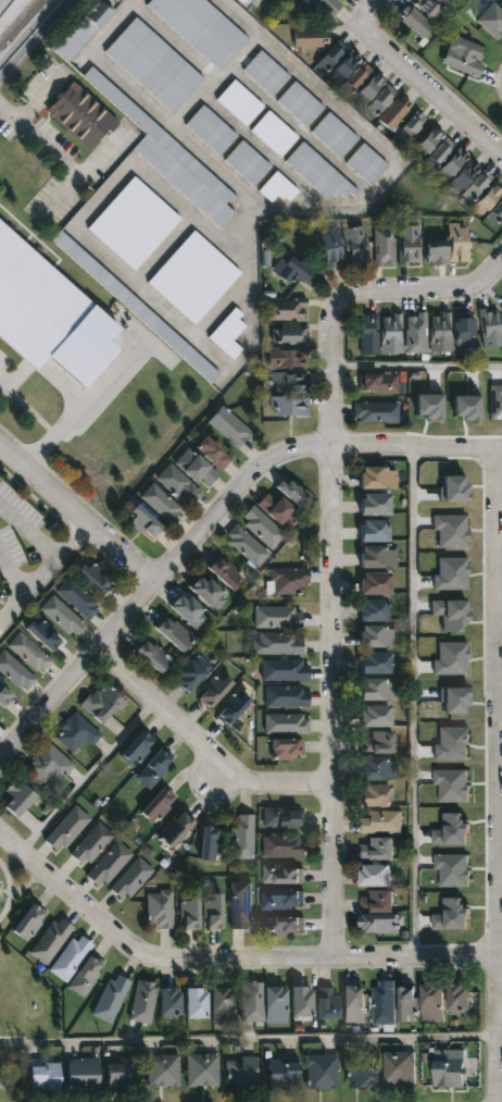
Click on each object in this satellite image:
building: (342, 0)
building: (457, 0)
road: (138, 1)
building: (240, 1)
building: (304, 1)
building: (445, 3)
road: (4, 4)
building: (327, 5)
building: (428, 9)
building: (415, 22)
building: (491, 22)
building: (201, 27)
building: (83, 30)
building: (310, 38)
road: (35, 40)
building: (465, 55)
building: (337, 62)
building: (153, 65)
road: (397, 66)
road: (110, 67)
building: (266, 73)
building: (354, 78)
building: (368, 88)
building: (380, 102)
building: (239, 103)
building: (300, 104)
building: (396, 113)
building: (80, 116)
road: (179, 117)
building: (211, 129)
building: (411, 129)
building: (274, 134)
building: (335, 135)
road: (367, 137)
road: (480, 138)
building: (427, 141)
building: (439, 154)
road: (55, 156)
building: (171, 158)
building: (248, 163)
building: (366, 164)
building: (453, 164)
building: (318, 173)
building: (463, 176)
building: (278, 187)
building: (477, 187)
building: (487, 198)
building: (495, 214)
building: (134, 224)
building: (456, 244)
building: (409, 245)
building: (356, 247)
building: (332, 248)
building: (382, 248)
building: (436, 251)
road: (110, 263)
building: (301, 271)
building: (193, 277)
building: (34, 302)
building: (501, 306)
building: (135, 307)
building: (284, 309)
building: (464, 326)
building: (490, 329)
building: (440, 332)
building: (228, 334)
building: (368, 334)
building: (290, 335)
building: (391, 335)
building: (416, 335)
building: (285, 358)
road: (416, 368)
building: (287, 382)
building: (380, 385)
building: (495, 403)
building: (290, 406)
building: (428, 406)
road: (81, 408)
building: (466, 408)
road: (27, 409)
building: (376, 412)
building: (229, 426)
building: (212, 451)
road: (417, 451)
building: (197, 468)
building: (377, 476)
building: (179, 485)
building: (453, 490)
building: (293, 492)
building: (162, 504)
building: (376, 505)
building: (279, 509)
road: (76, 518)
building: (145, 523)
building: (262, 528)
building: (375, 531)
building: (451, 531)
road: (27, 534)
building: (246, 546)
road: (332, 546)
building: (379, 557)
road: (42, 572)
building: (227, 574)
building: (451, 574)
building: (93, 577)
building: (288, 580)
building: (377, 584)
road: (152, 586)
building: (209, 593)
building: (78, 598)
building: (189, 610)
building: (375, 610)
building: (450, 615)
building: (62, 617)
building: (276, 617)
building: (43, 634)
building: (175, 634)
building: (380, 636)
building: (277, 643)
building: (29, 653)
building: (153, 656)
building: (451, 659)
building: (377, 663)
building: (285, 670)
building: (14, 671)
building: (193, 673)
building: (380, 690)
building: (214, 691)
building: (4, 695)
building: (287, 696)
building: (454, 701)
building: (101, 702)
road: (414, 705)
building: (231, 708)
building: (1, 716)
building: (377, 716)
building: (287, 722)
building: (75, 733)
building: (378, 743)
building: (451, 744)
building: (138, 748)
building: (288, 748)
road: (204, 751)
building: (49, 763)
building: (154, 768)
building: (379, 769)
road: (495, 777)
road: (87, 778)
building: (452, 784)
building: (377, 795)
building: (18, 797)
building: (158, 805)
building: (283, 816)
building: (381, 821)
building: (176, 827)
building: (66, 828)
building: (451, 831)
building: (243, 835)
building: (90, 843)
building: (210, 843)
building: (284, 845)
building: (379, 849)
building: (109, 864)
building: (452, 869)
building: (284, 874)
building: (377, 876)
building: (131, 878)
building: (283, 899)
building: (241, 904)
building: (160, 909)
building: (215, 911)
building: (380, 912)
building: (191, 913)
building: (452, 915)
building: (29, 920)
building: (283, 926)
building: (51, 939)
building: (71, 957)
road: (227, 963)
building: (86, 976)
park: (21, 989)
building: (111, 996)
building: (461, 998)
building: (143, 1001)
building: (252, 1001)
building: (304, 1001)
building: (172, 1002)
building: (198, 1002)
building: (385, 1002)
building: (435, 1002)
building: (355, 1003)
building: (410, 1003)
building: (224, 1004)
building: (277, 1004)
building: (329, 1004)
road: (500, 1033)
road: (249, 1037)
building: (399, 1066)
building: (451, 1067)
building: (203, 1068)
building: (163, 1069)
building: (242, 1070)
building: (322, 1070)
building: (362, 1073)
building: (85, 1074)
building: (125, 1074)
building: (285, 1075)
building: (47, 1077)

